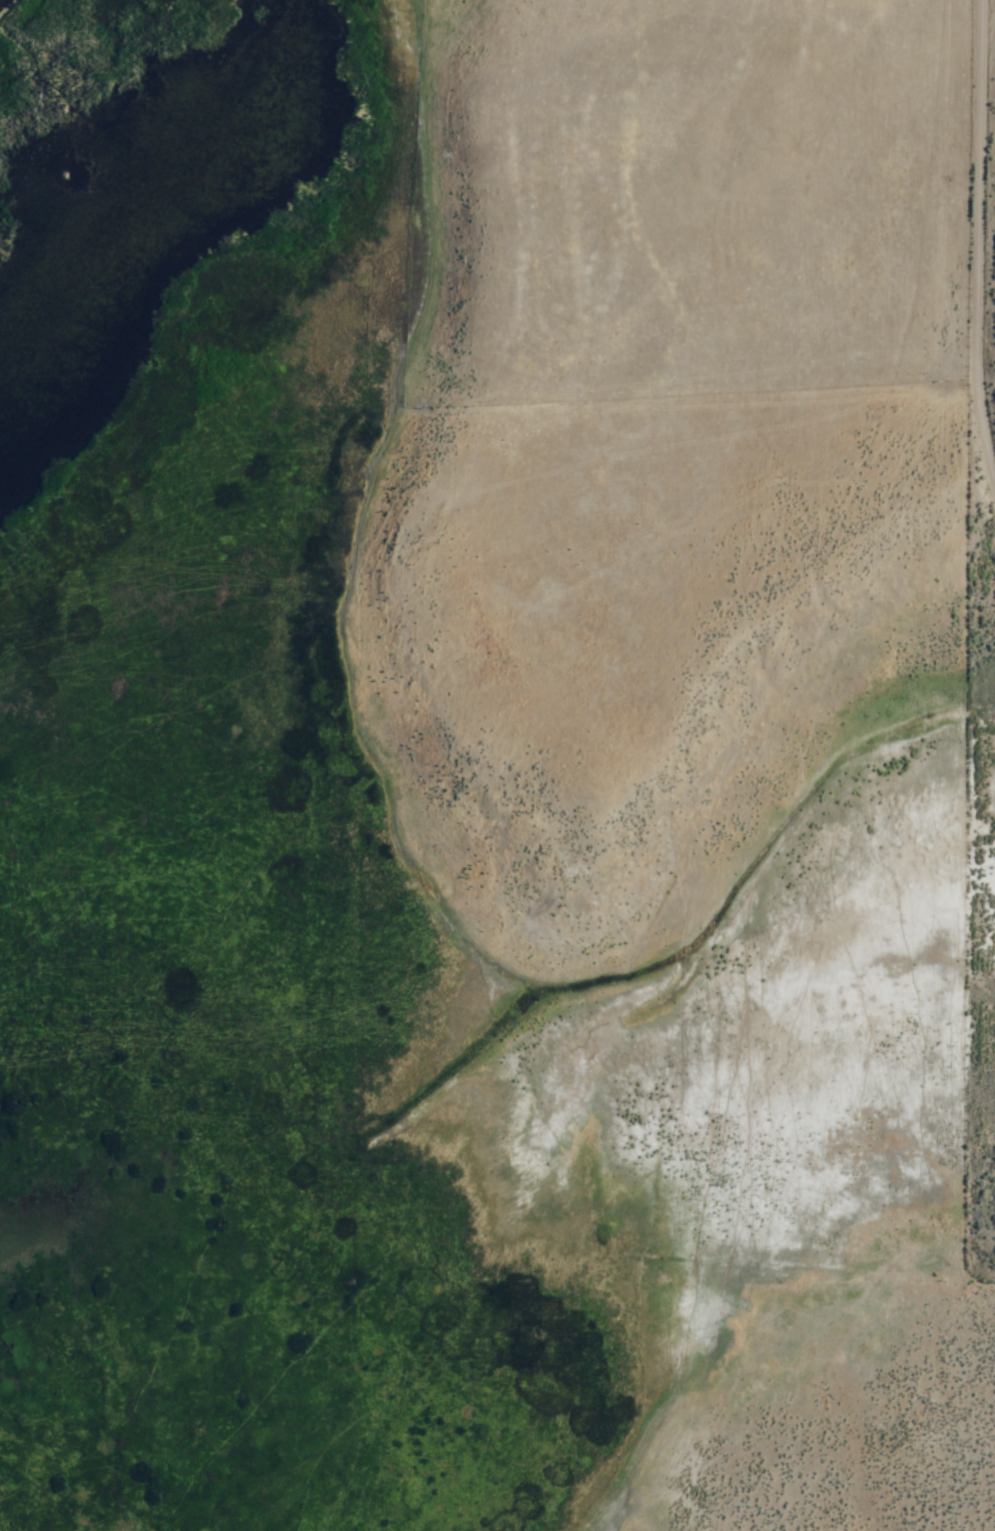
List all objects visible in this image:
road: (980, 213)

